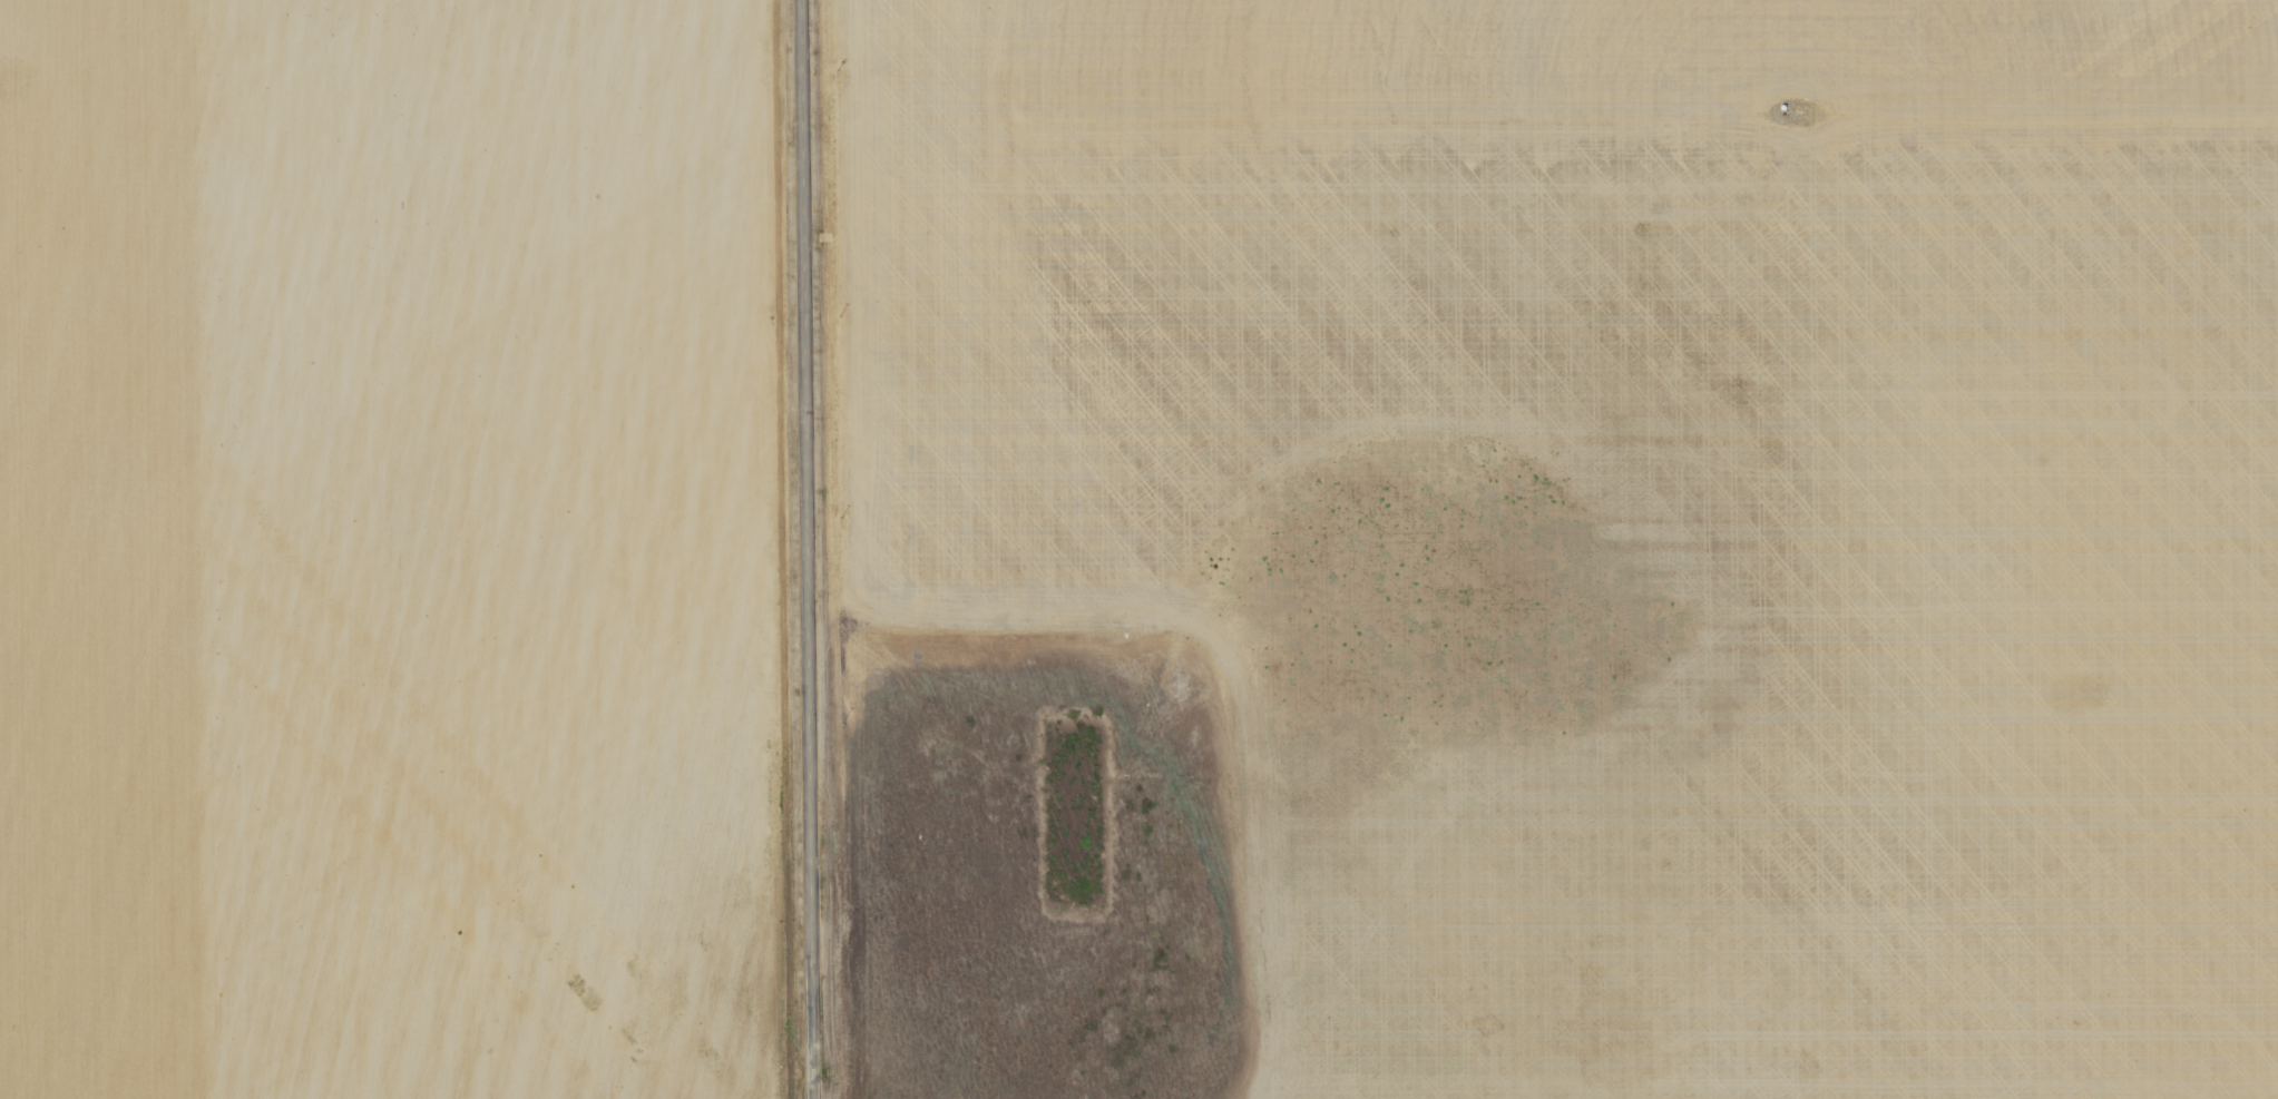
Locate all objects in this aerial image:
road: (808, 549)

